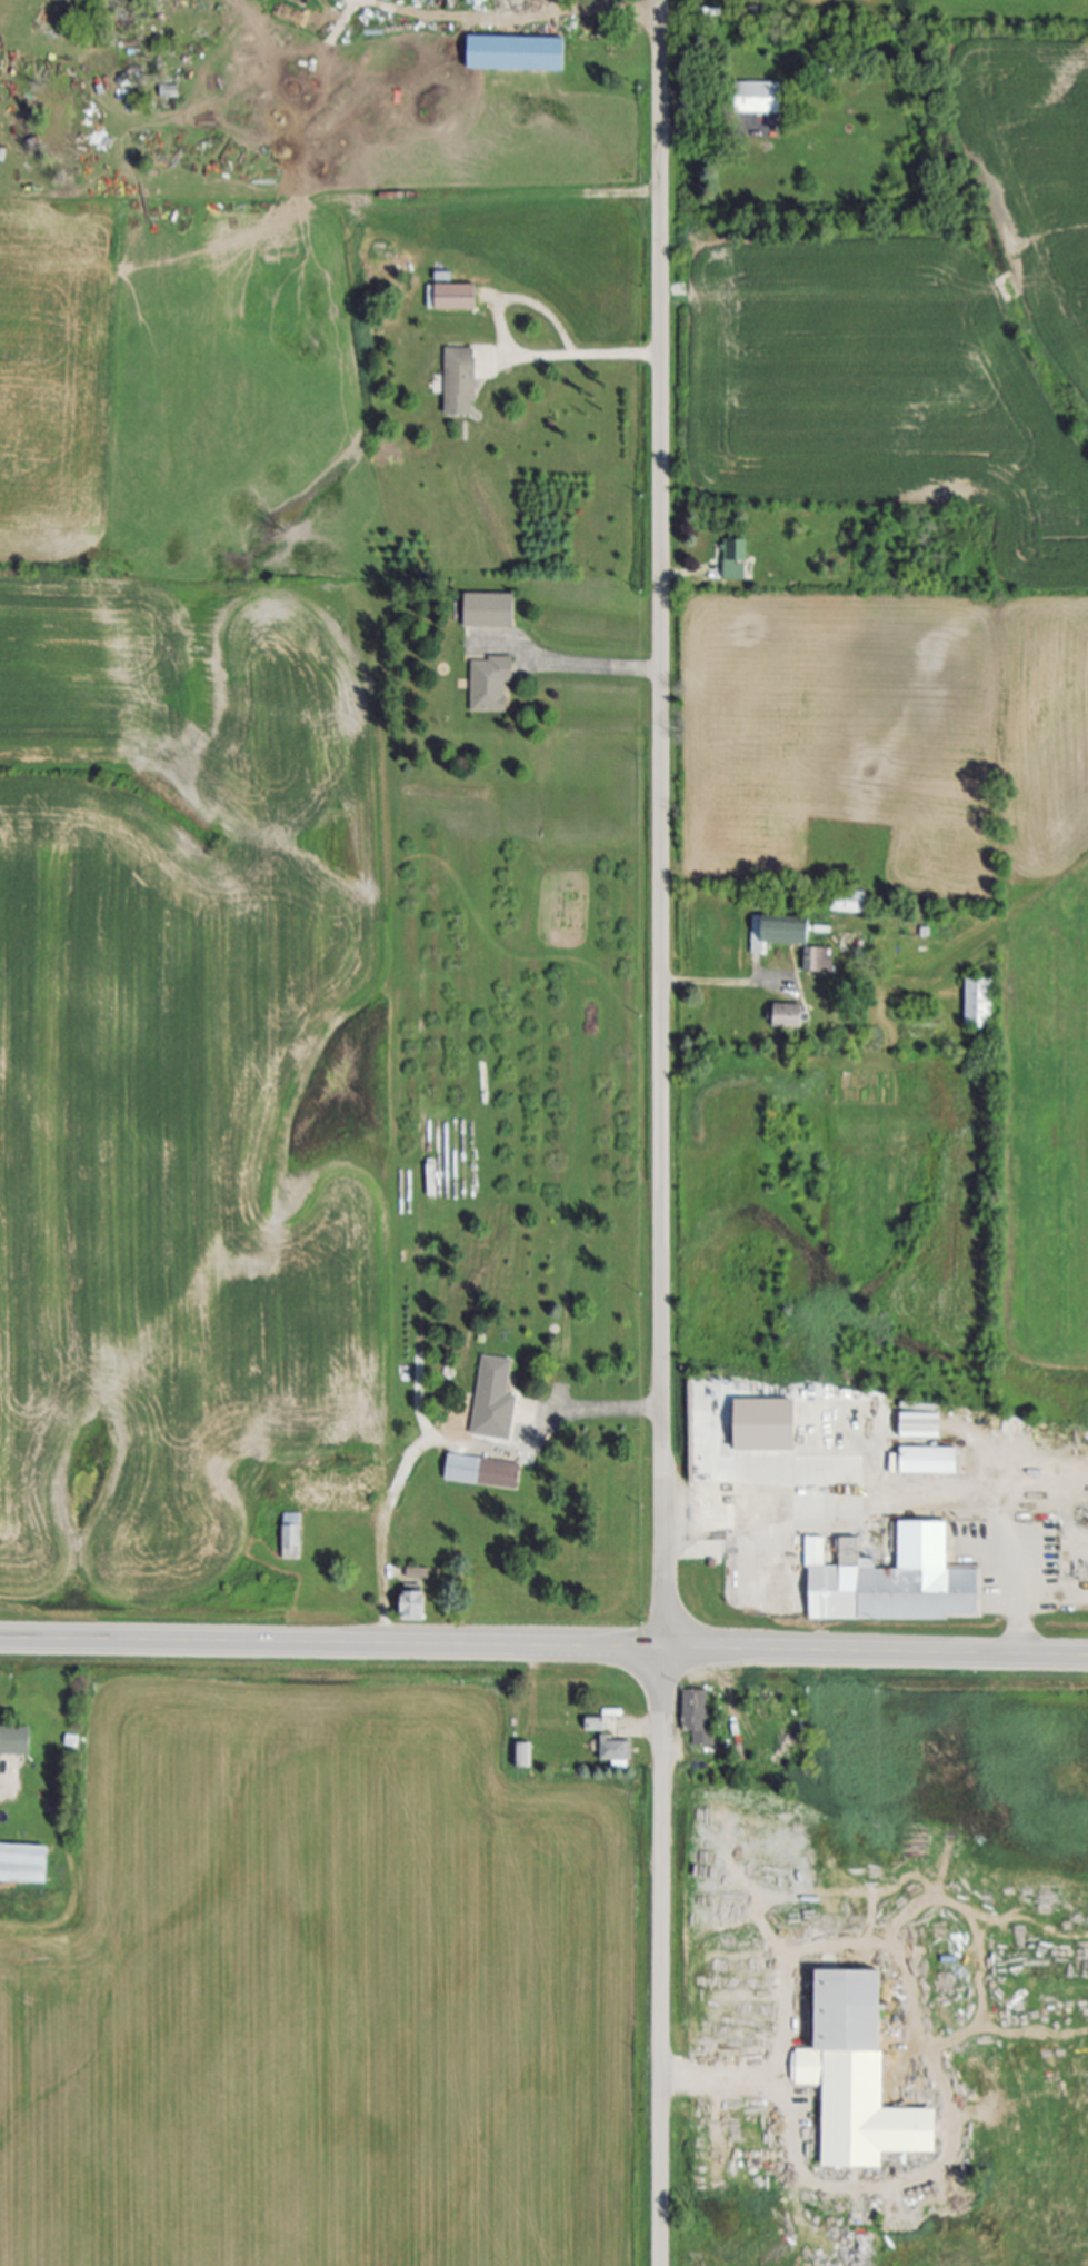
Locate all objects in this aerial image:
road: (605, 8)
building: (518, 54)
building: (170, 90)
building: (758, 99)
road: (708, 130)
building: (452, 297)
road: (508, 350)
building: (461, 381)
building: (735, 559)
road: (683, 575)
building: (490, 610)
road: (597, 667)
building: (491, 684)
building: (850, 903)
building: (778, 933)
building: (818, 960)
road: (726, 984)
building: (978, 1003)
building: (790, 1016)
road: (661, 1132)
building: (503, 1400)
road: (588, 1413)
building: (771, 1424)
building: (921, 1425)
building: (930, 1461)
building: (483, 1473)
building: (342, 1492)
road: (909, 1500)
building: (292, 1543)
building: (420, 1572)
building: (897, 1580)
road: (385, 1597)
building: (416, 1607)
road: (543, 1648)
building: (699, 1718)
building: (599, 1721)
building: (16, 1739)
building: (617, 1752)
building: (523, 1757)
building: (26, 1866)
road: (715, 2075)
building: (859, 2076)

